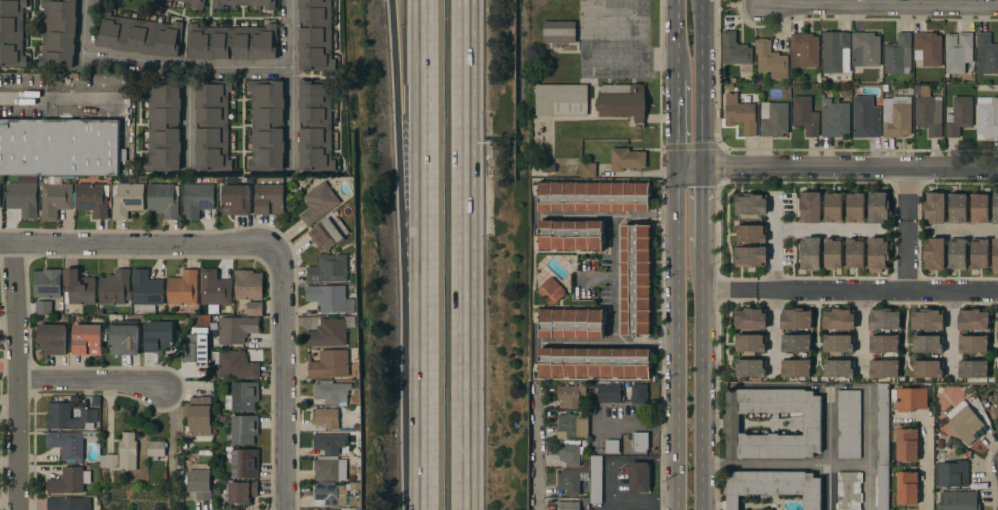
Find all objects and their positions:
building: (167, 1)
building: (193, 2)
building: (246, 3)
road: (700, 6)
road: (882, 7)
building: (559, 31)
building: (12, 33)
building: (58, 34)
building: (139, 35)
building: (315, 35)
road: (676, 40)
building: (231, 42)
building: (866, 49)
building: (928, 49)
building: (804, 50)
building: (736, 52)
building: (836, 52)
building: (958, 52)
building: (898, 54)
building: (986, 54)
road: (632, 55)
road: (82, 60)
building: (771, 60)
road: (160, 63)
road: (701, 81)
road: (291, 85)
building: (729, 87)
building: (917, 90)
road: (53, 99)
building: (561, 100)
building: (621, 101)
building: (740, 114)
building: (929, 114)
building: (805, 115)
building: (896, 116)
building: (959, 116)
building: (865, 117)
building: (987, 117)
road: (188, 118)
building: (835, 118)
building: (774, 119)
road: (677, 121)
building: (212, 125)
building: (267, 125)
building: (163, 126)
building: (315, 126)
road: (403, 144)
road: (420, 144)
building: (59, 147)
building: (627, 159)
road: (837, 163)
building: (542, 169)
building: (588, 170)
road: (904, 192)
building: (23, 196)
building: (269, 196)
building: (594, 196)
building: (56, 199)
building: (126, 199)
building: (164, 199)
building: (197, 199)
building: (92, 200)
building: (236, 200)
building: (319, 203)
building: (751, 204)
road: (701, 205)
building: (934, 206)
building: (810, 207)
building: (832, 207)
building: (878, 207)
building: (957, 207)
building: (995, 207)
building: (855, 208)
building: (979, 208)
road: (665, 219)
road: (828, 229)
road: (963, 231)
building: (328, 233)
building: (751, 233)
building: (570, 235)
road: (143, 245)
building: (854, 252)
building: (809, 253)
building: (832, 253)
building: (934, 253)
building: (957, 253)
building: (979, 253)
road: (466, 255)
building: (878, 255)
road: (903, 255)
building: (995, 255)
building: (749, 256)
building: (328, 269)
building: (636, 279)
road: (615, 280)
building: (47, 283)
building: (248, 284)
road: (773, 286)
building: (79, 287)
building: (114, 287)
building: (183, 288)
building: (214, 288)
building: (551, 290)
building: (146, 291)
road: (876, 291)
road: (728, 292)
building: (329, 298)
building: (44, 307)
building: (254, 308)
building: (750, 318)
building: (797, 318)
building: (838, 319)
building: (884, 319)
building: (926, 319)
building: (973, 319)
building: (571, 323)
building: (236, 329)
building: (330, 332)
road: (950, 334)
road: (677, 335)
road: (861, 335)
building: (158, 336)
building: (124, 337)
building: (52, 338)
building: (88, 339)
road: (665, 343)
building: (750, 343)
building: (796, 343)
building: (838, 343)
building: (883, 343)
building: (927, 343)
building: (973, 343)
building: (195, 345)
building: (594, 363)
building: (235, 364)
building: (329, 364)
building: (750, 367)
building: (795, 368)
building: (838, 368)
building: (884, 368)
building: (928, 368)
building: (973, 369)
road: (19, 377)
road: (286, 378)
road: (702, 379)
road: (92, 381)
building: (332, 392)
building: (607, 392)
building: (570, 394)
building: (638, 394)
building: (242, 396)
road: (420, 399)
building: (909, 399)
building: (996, 408)
building: (608, 410)
building: (198, 416)
building: (69, 417)
building: (326, 418)
building: (968, 420)
building: (811, 423)
road: (645, 424)
building: (848, 424)
building: (571, 425)
building: (244, 429)
building: (639, 442)
building: (67, 444)
building: (329, 444)
building: (907, 445)
building: (882, 446)
building: (155, 449)
road: (539, 449)
road: (827, 451)
building: (127, 452)
building: (568, 452)
building: (109, 461)
road: (612, 462)
building: (245, 463)
road: (785, 465)
building: (330, 469)
road: (924, 469)
building: (949, 469)
building: (640, 476)
building: (595, 478)
building: (571, 480)
building: (69, 481)
building: (199, 481)
building: (772, 486)
building: (907, 488)
building: (848, 490)
building: (242, 491)
building: (330, 494)
building: (956, 500)
road: (645, 502)
building: (68, 503)
building: (568, 506)
building: (607, 506)
building: (317, 509)
building: (328, 509)

